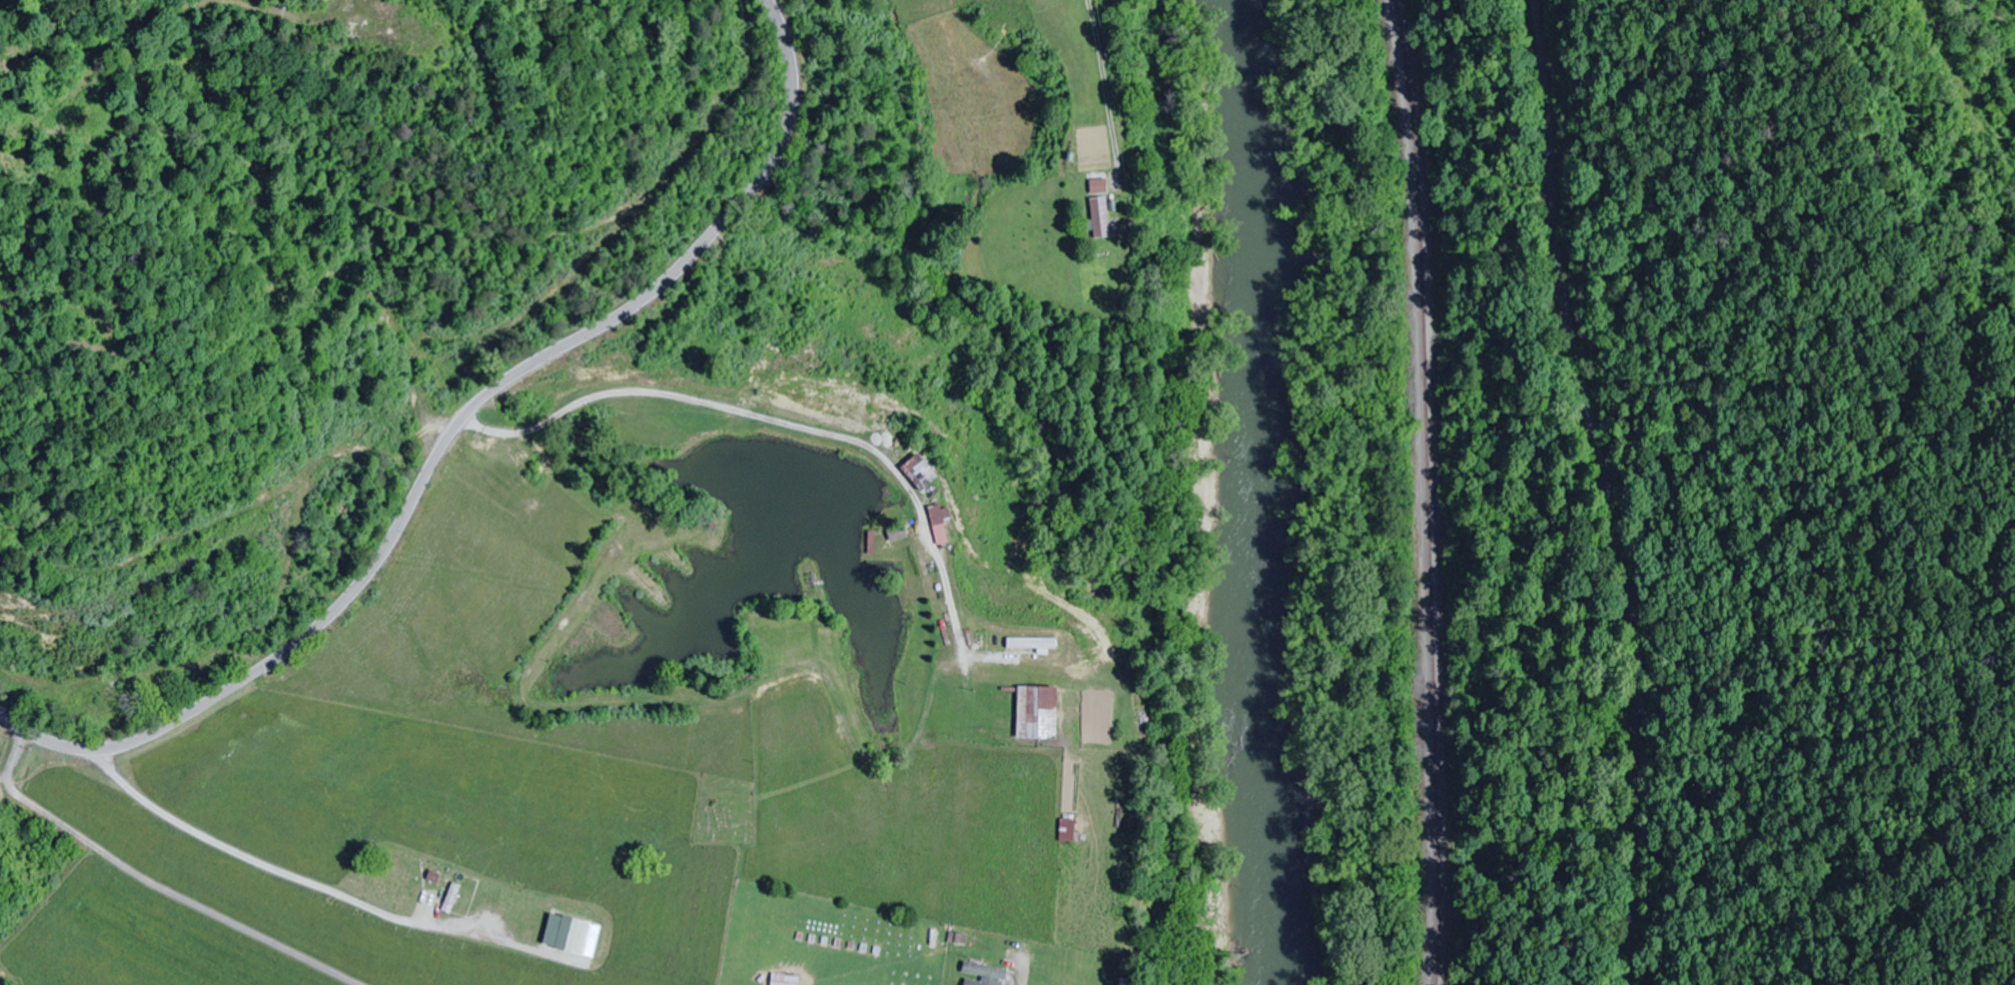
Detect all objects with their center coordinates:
building: (1101, 217)
road: (452, 436)
building: (525, 455)
building: (920, 472)
river: (1263, 490)
road: (1605, 490)
railway: (1429, 491)
building: (940, 524)
building: (111, 695)
building: (1038, 713)
building: (1067, 830)
building: (419, 849)
road: (298, 873)
building: (407, 891)
building: (505, 897)
building: (574, 936)
building: (984, 975)

